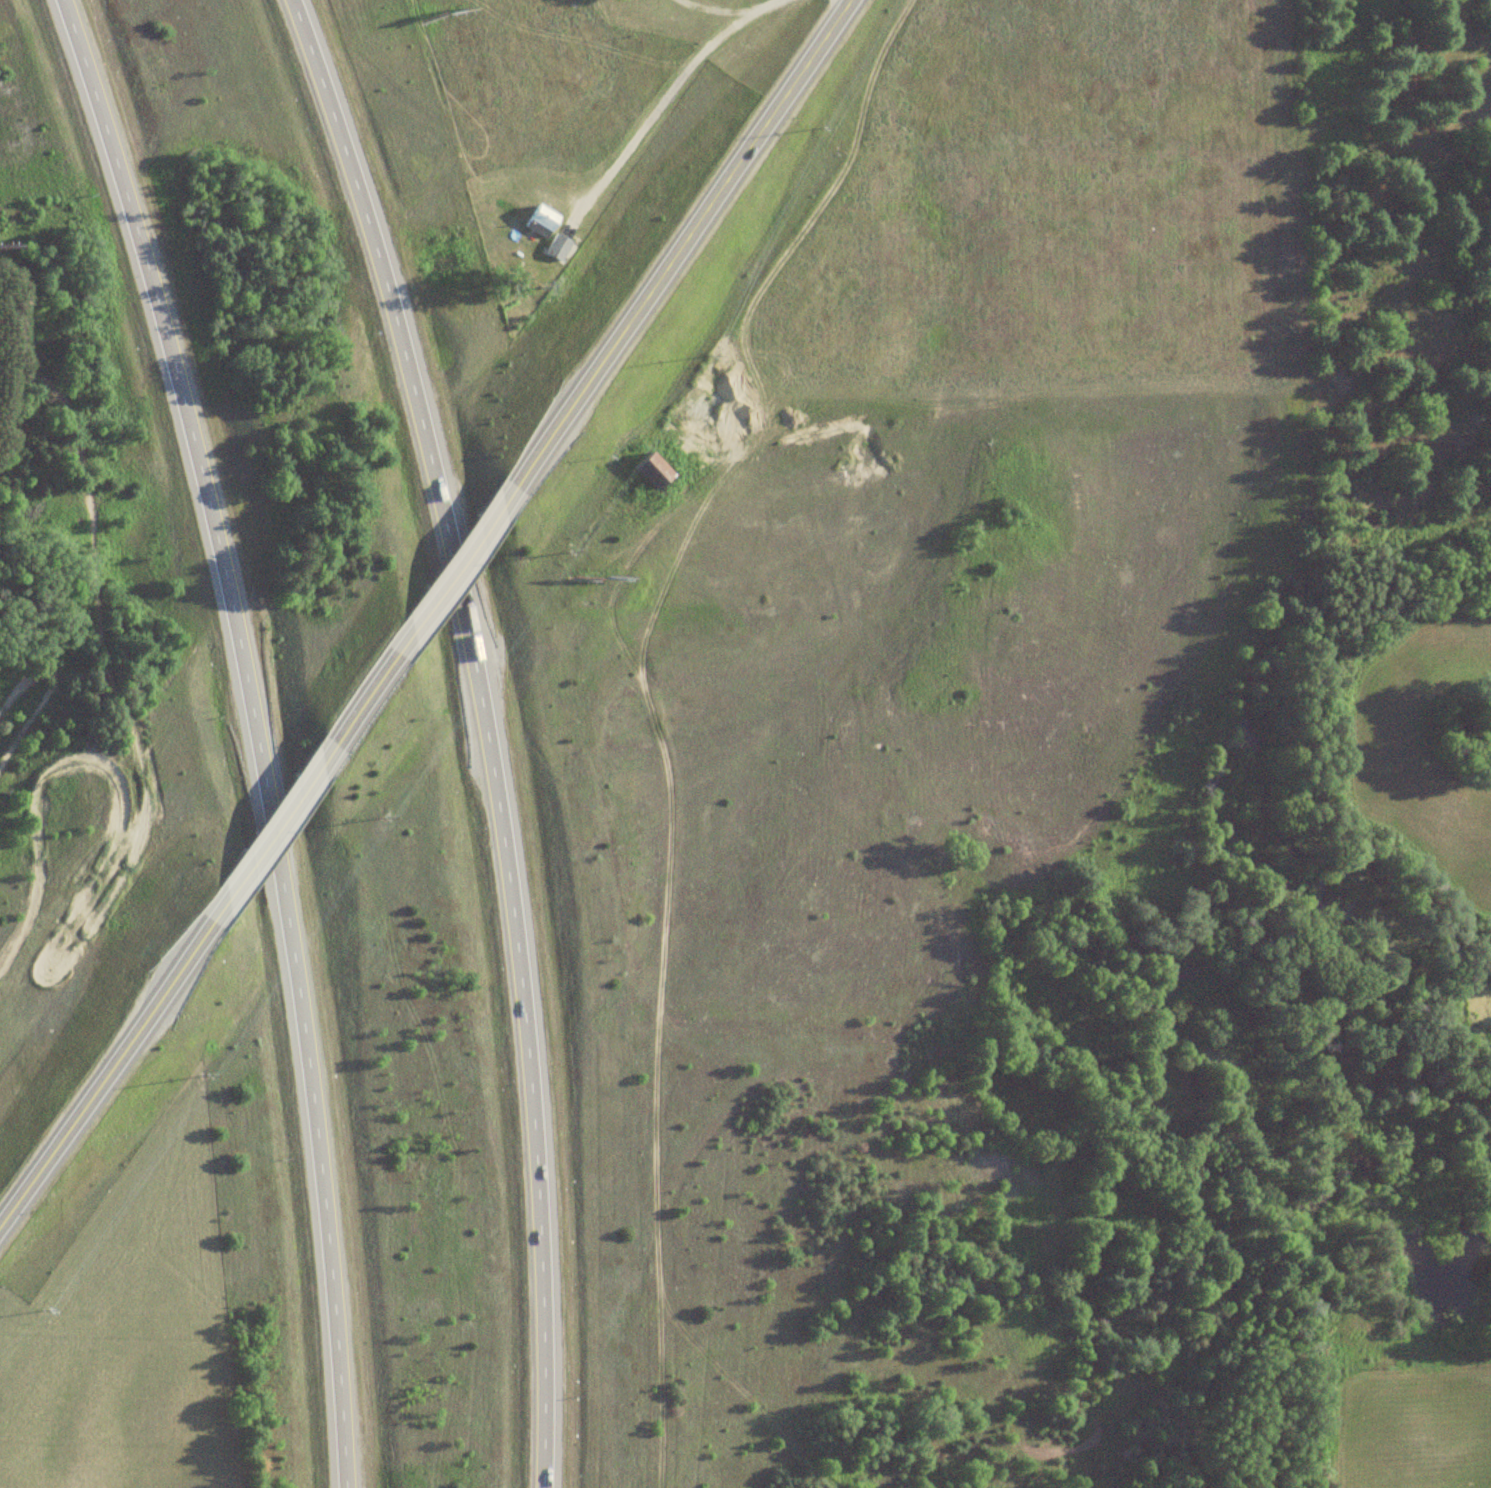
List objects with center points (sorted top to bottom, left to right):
building: (542, 222)
building: (558, 248)
road: (678, 256)
building: (654, 471)
road: (461, 572)
road: (373, 691)
road: (259, 731)
road: (494, 731)
road: (276, 830)
road: (112, 1067)

